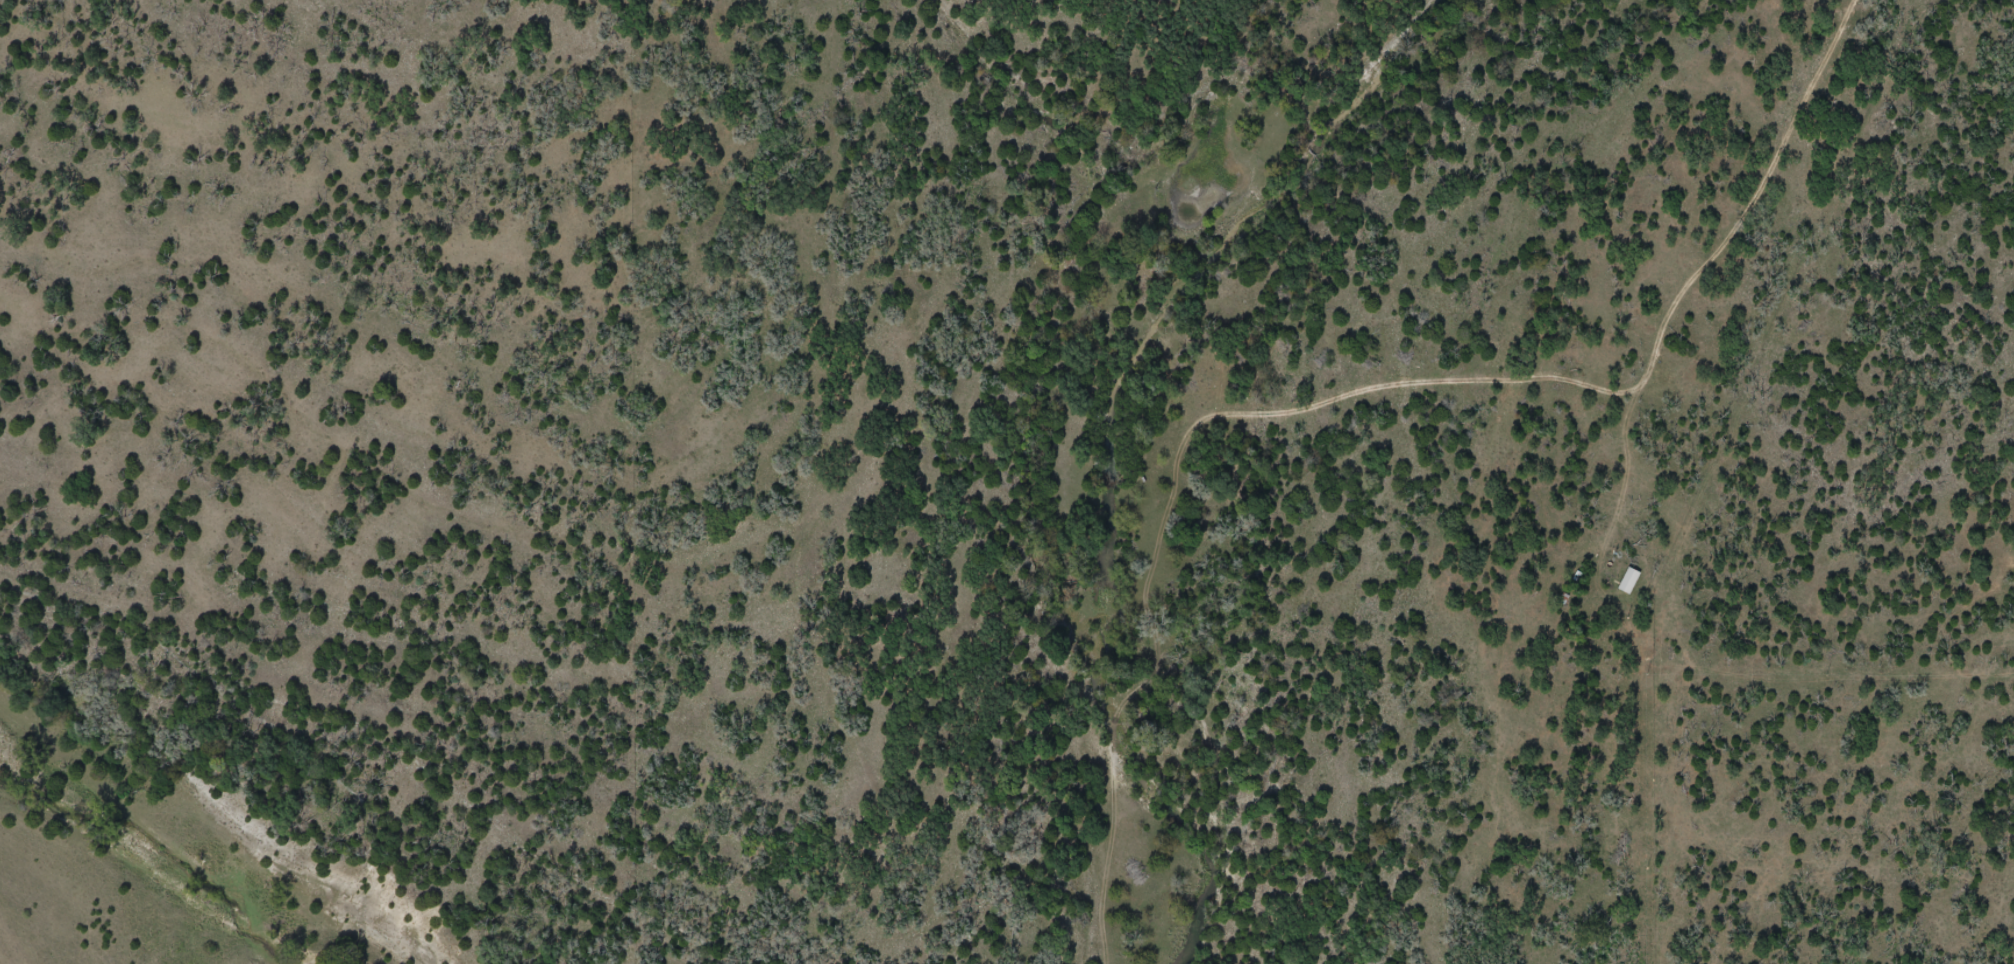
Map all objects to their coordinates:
road: (1658, 361)
building: (1630, 582)
road: (1890, 663)

